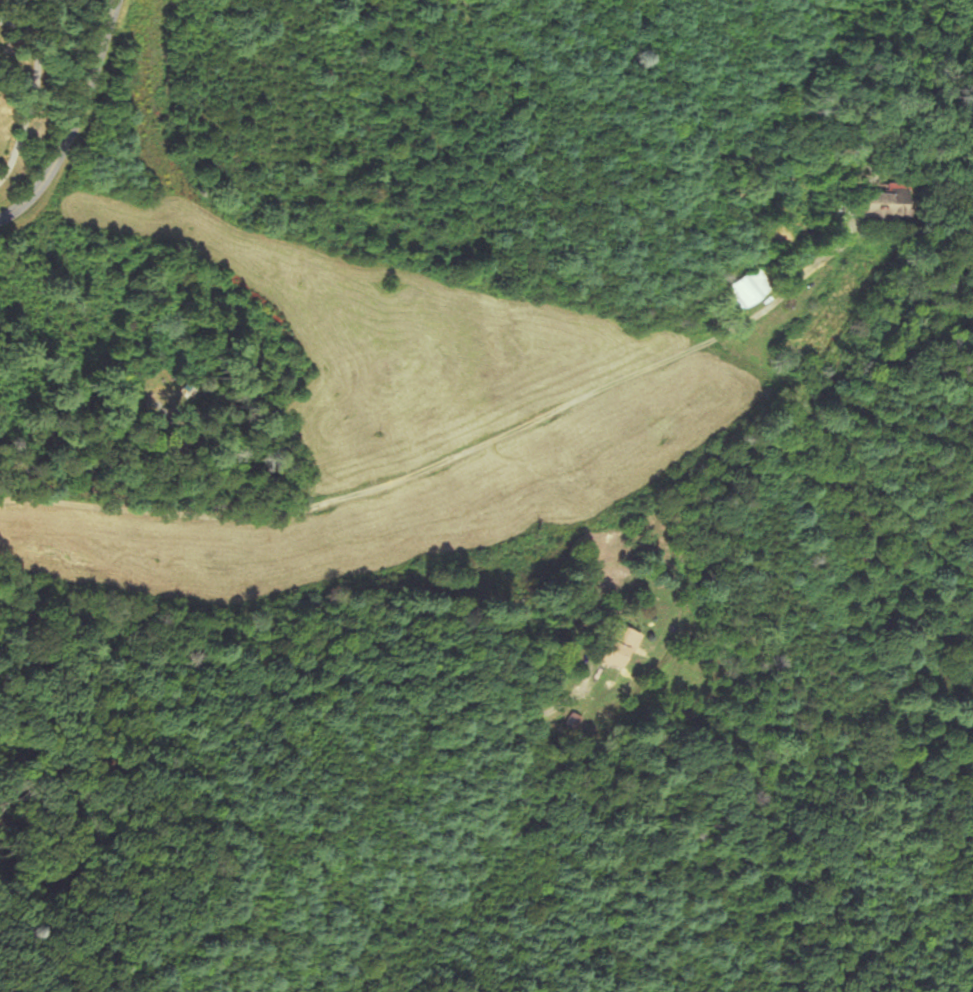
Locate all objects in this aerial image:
road: (68, 114)
road: (422, 471)
building: (625, 650)

